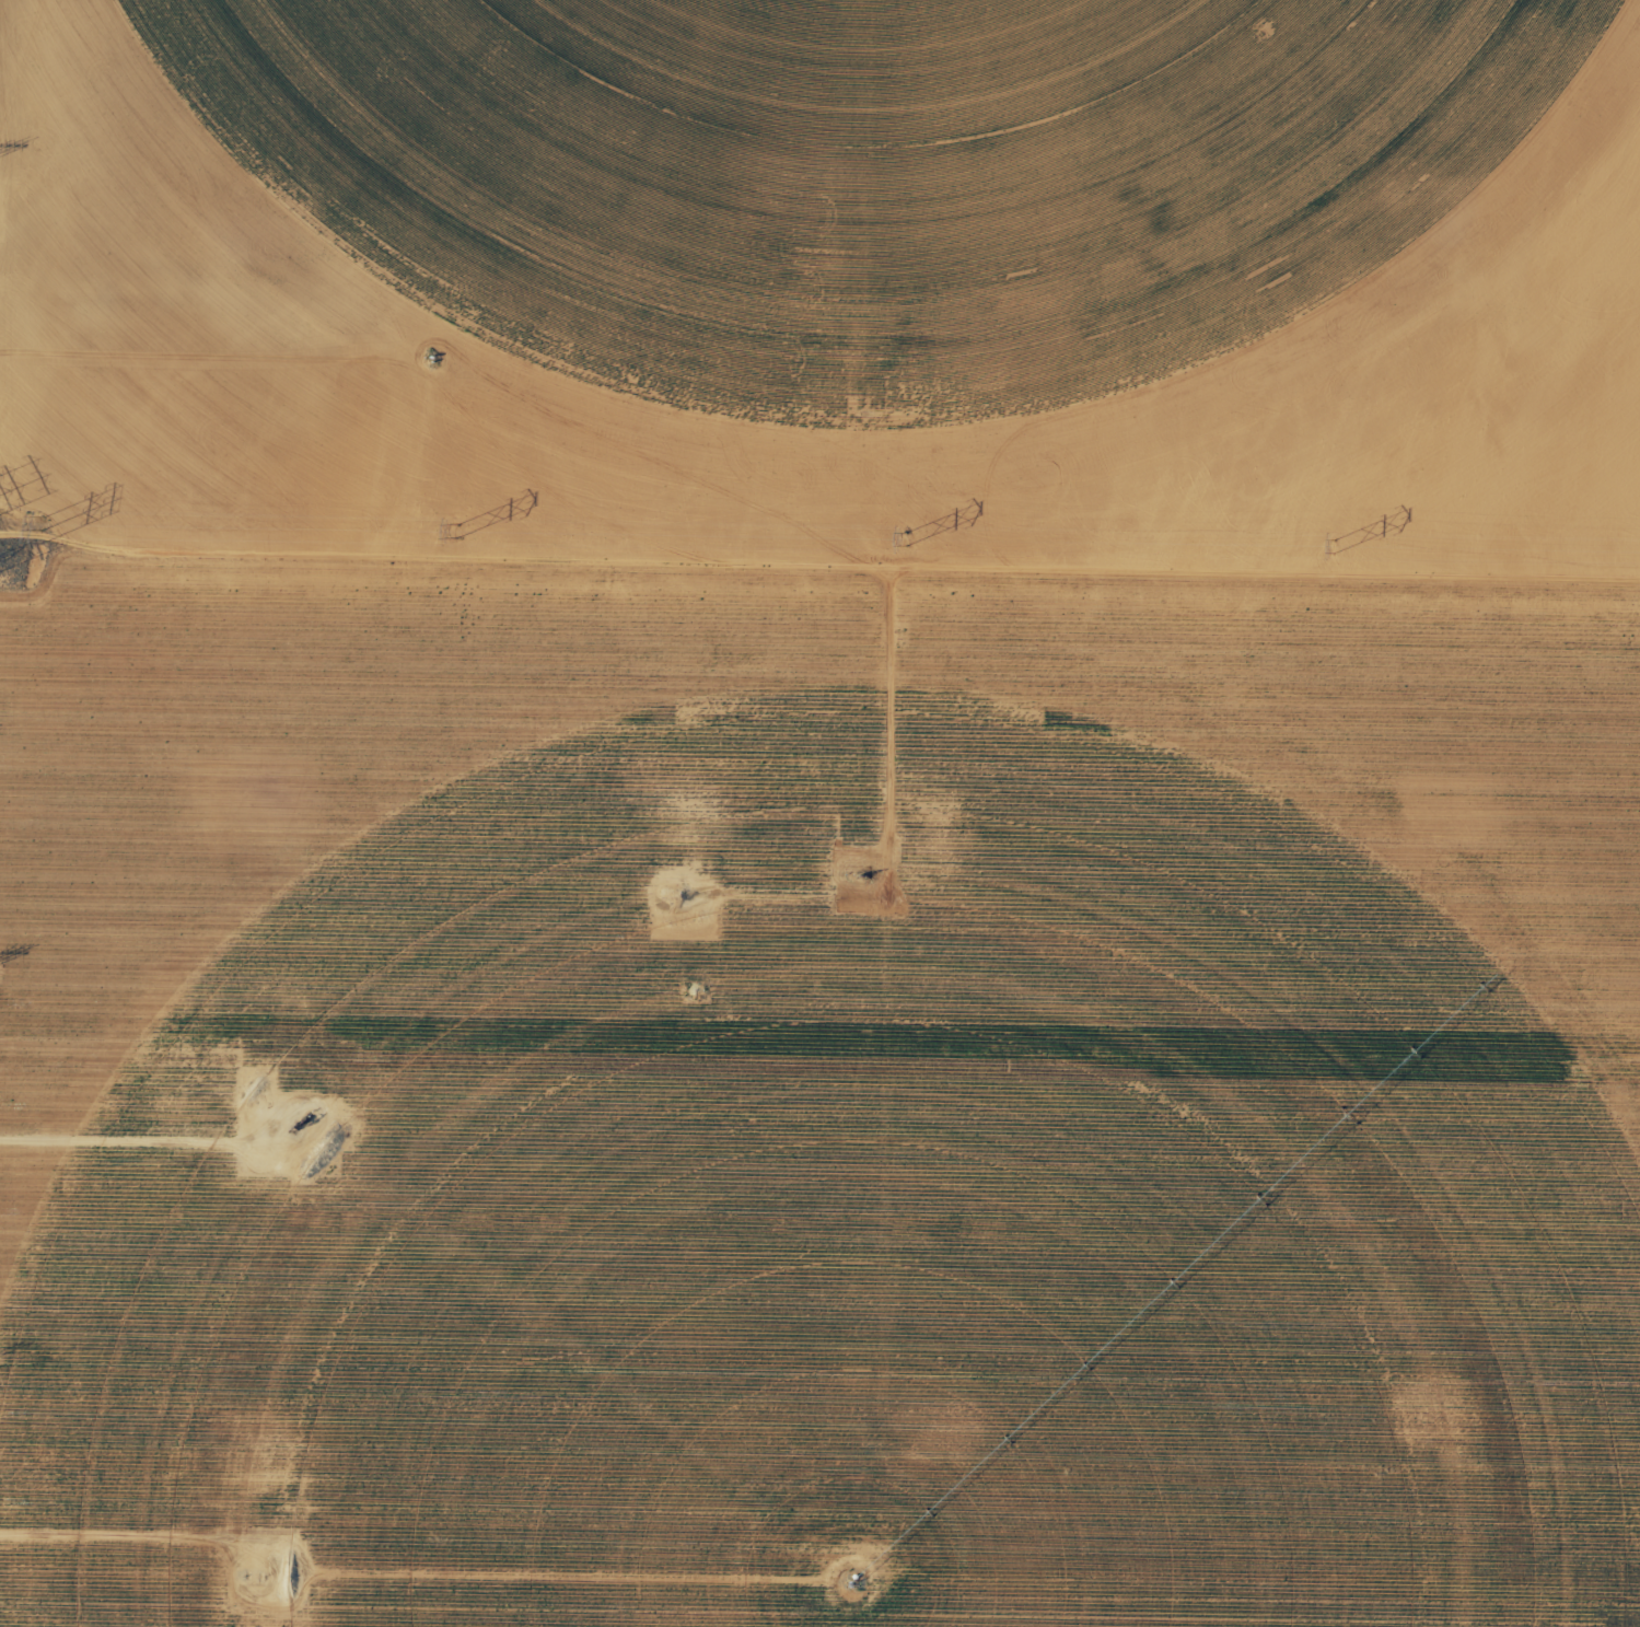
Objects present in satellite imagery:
power tower: (42, 526)
power tower: (454, 528)
power tower: (903, 537)
power tower: (1333, 541)
petroleum well: (861, 874)
petroleum well: (293, 1124)

